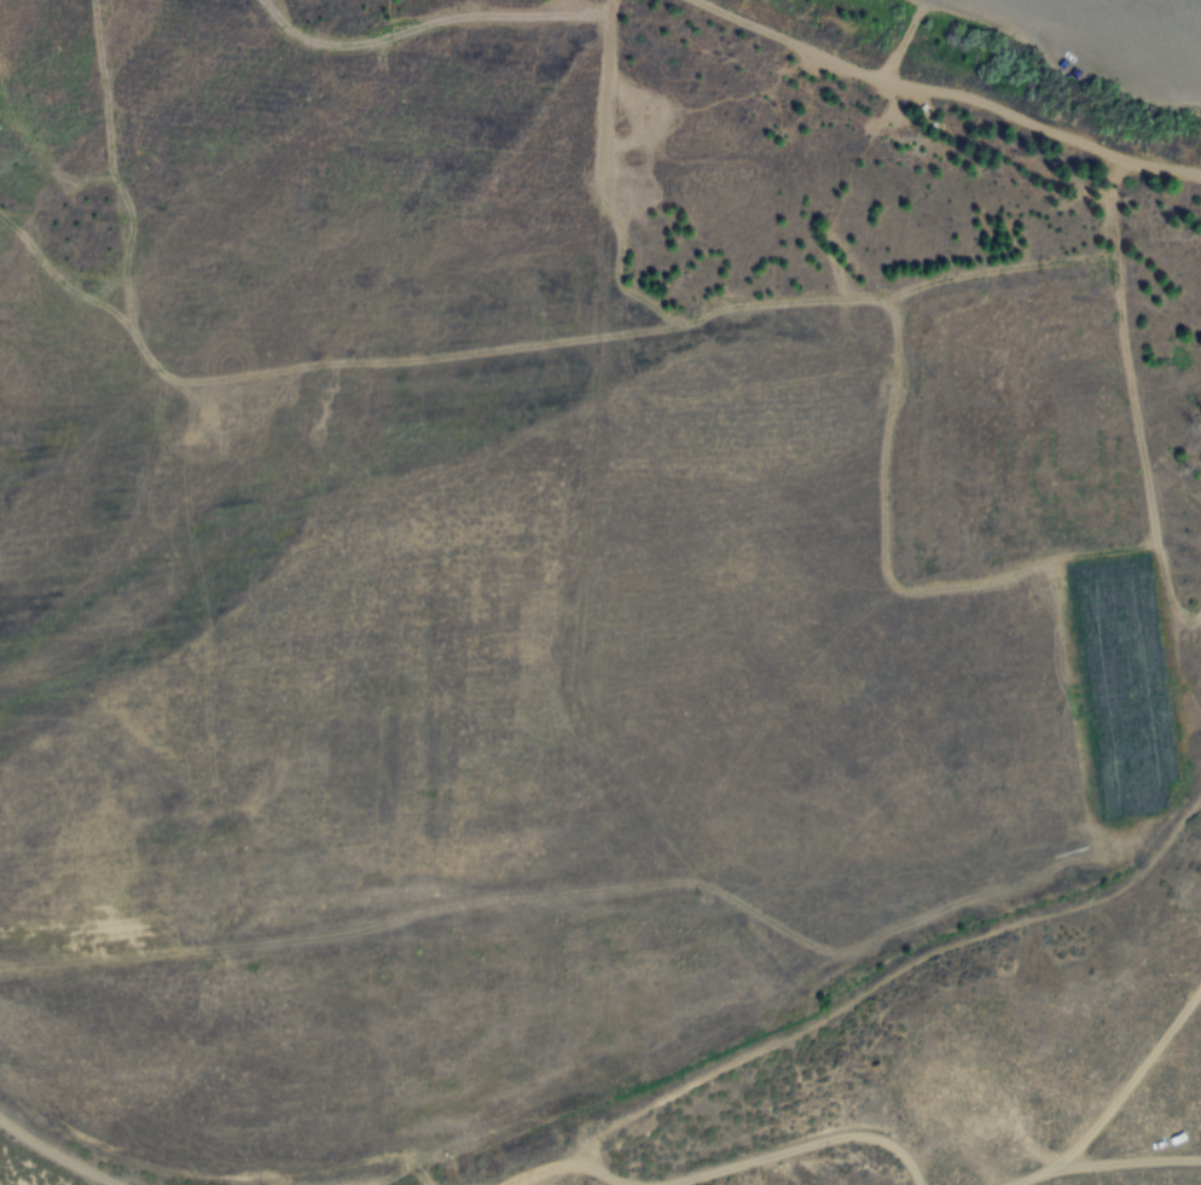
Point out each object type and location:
road: (948, 89)
crop: (574, 609)
road: (1129, 1080)
road: (57, 1156)
road: (1095, 1163)
road: (703, 1166)

